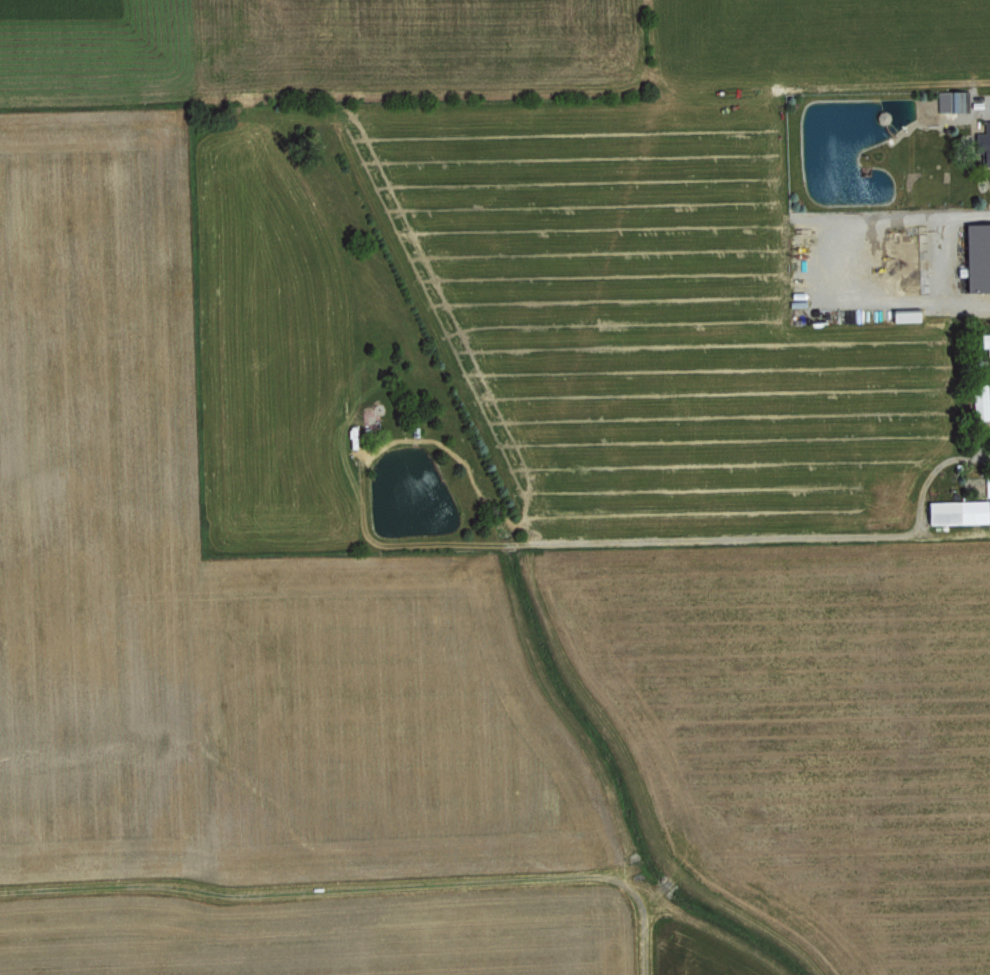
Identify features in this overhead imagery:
building: (953, 100)
building: (984, 145)
building: (977, 257)
building: (985, 342)
building: (987, 487)
building: (957, 512)
building: (989, 516)

